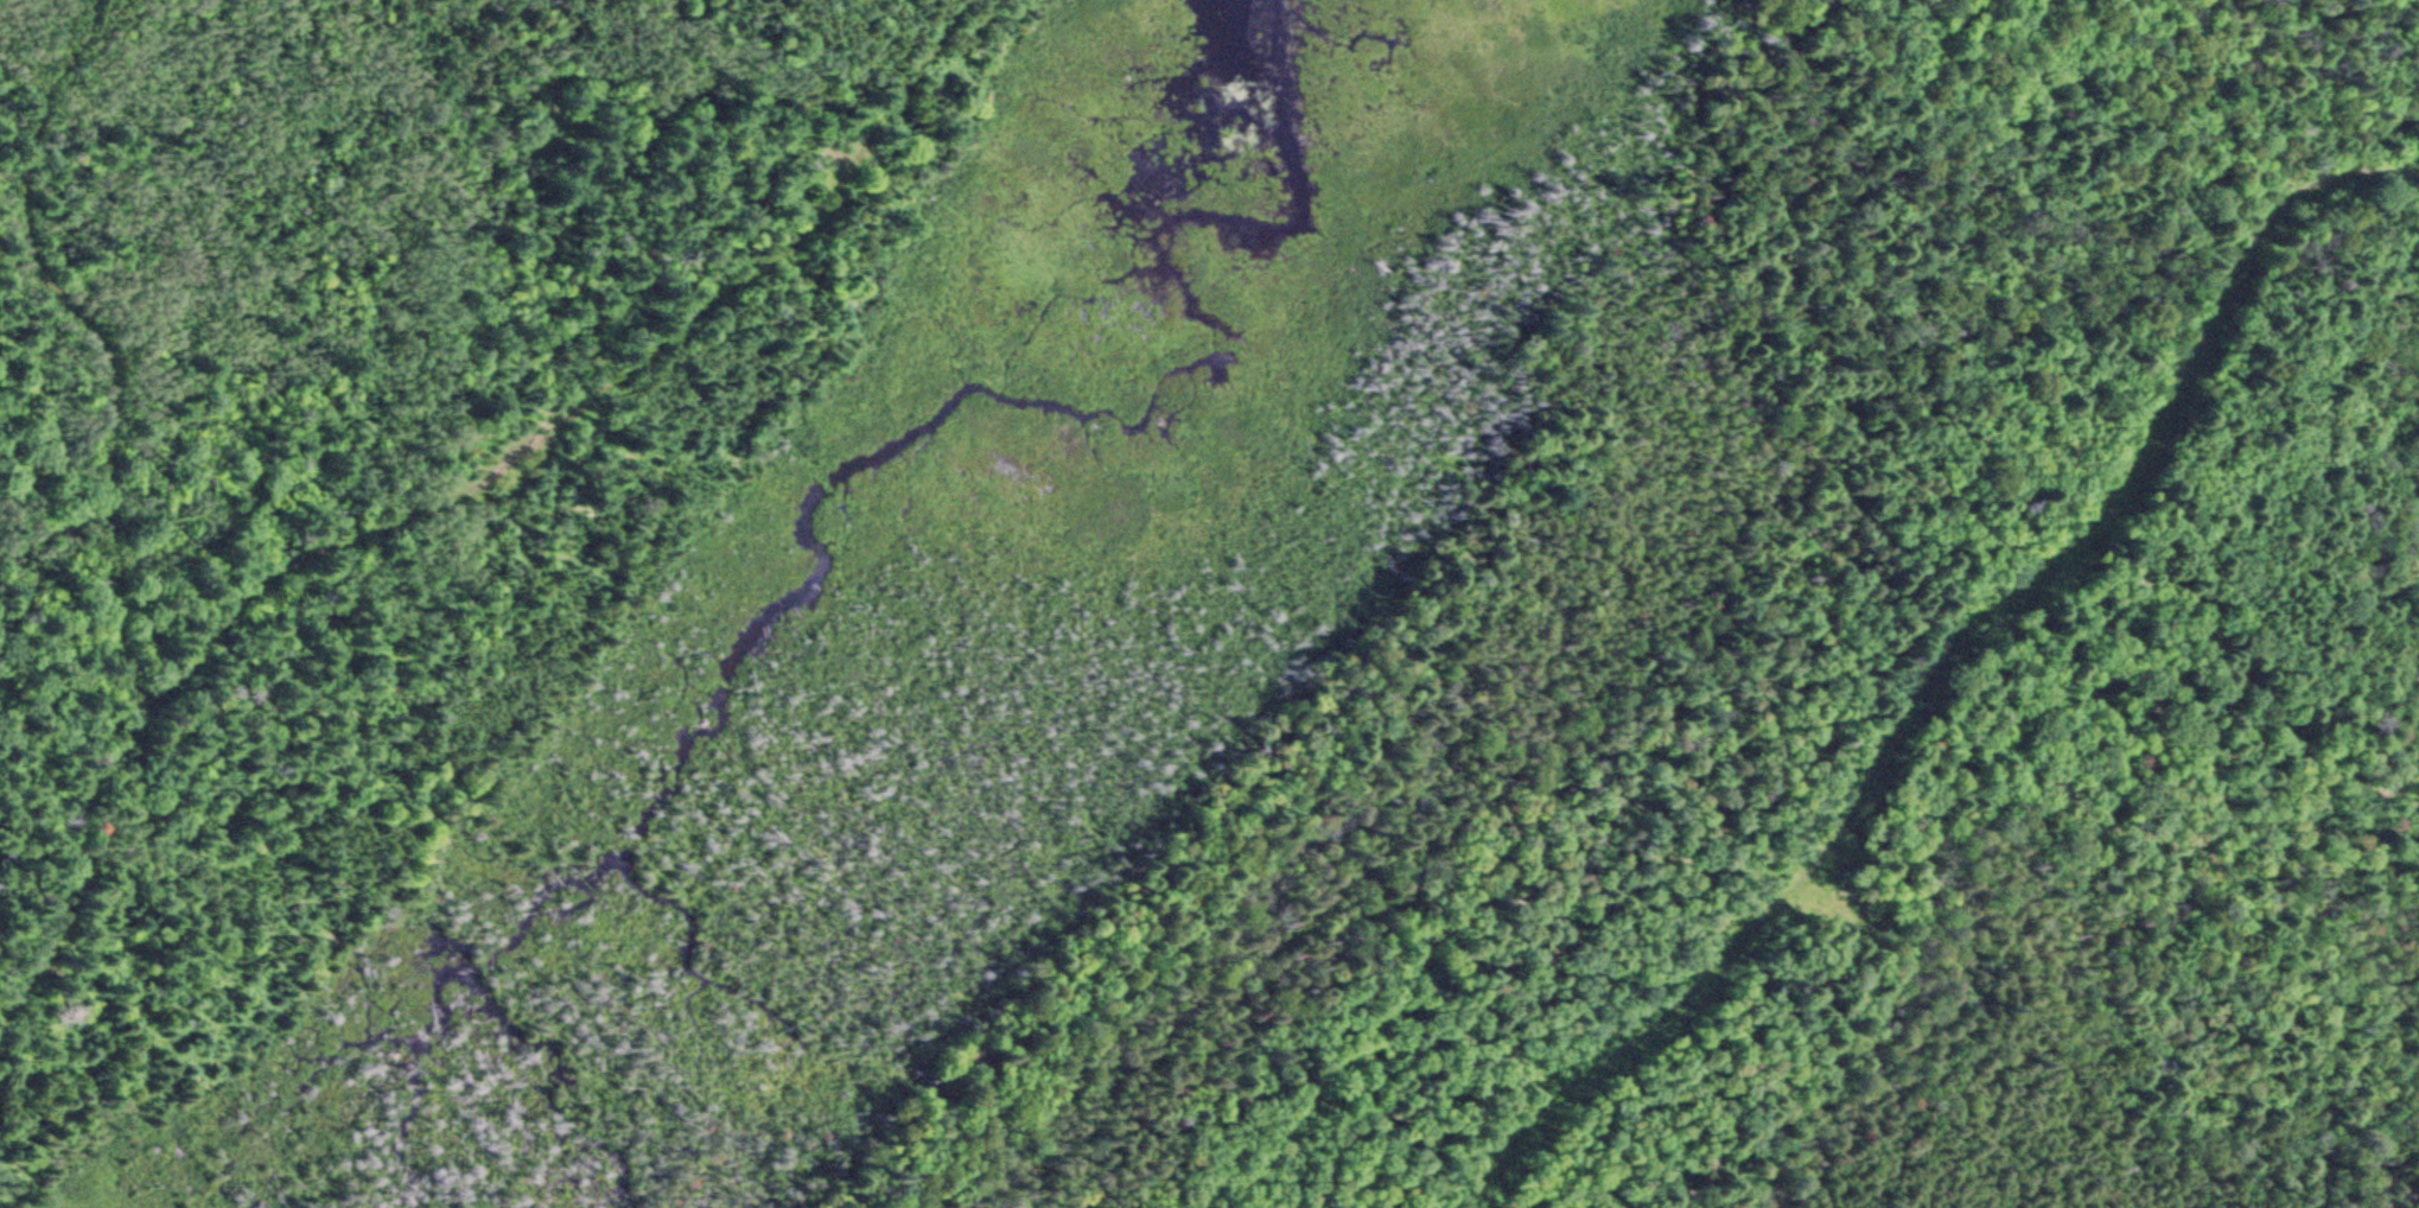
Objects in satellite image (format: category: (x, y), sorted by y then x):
road: (397, 430)

